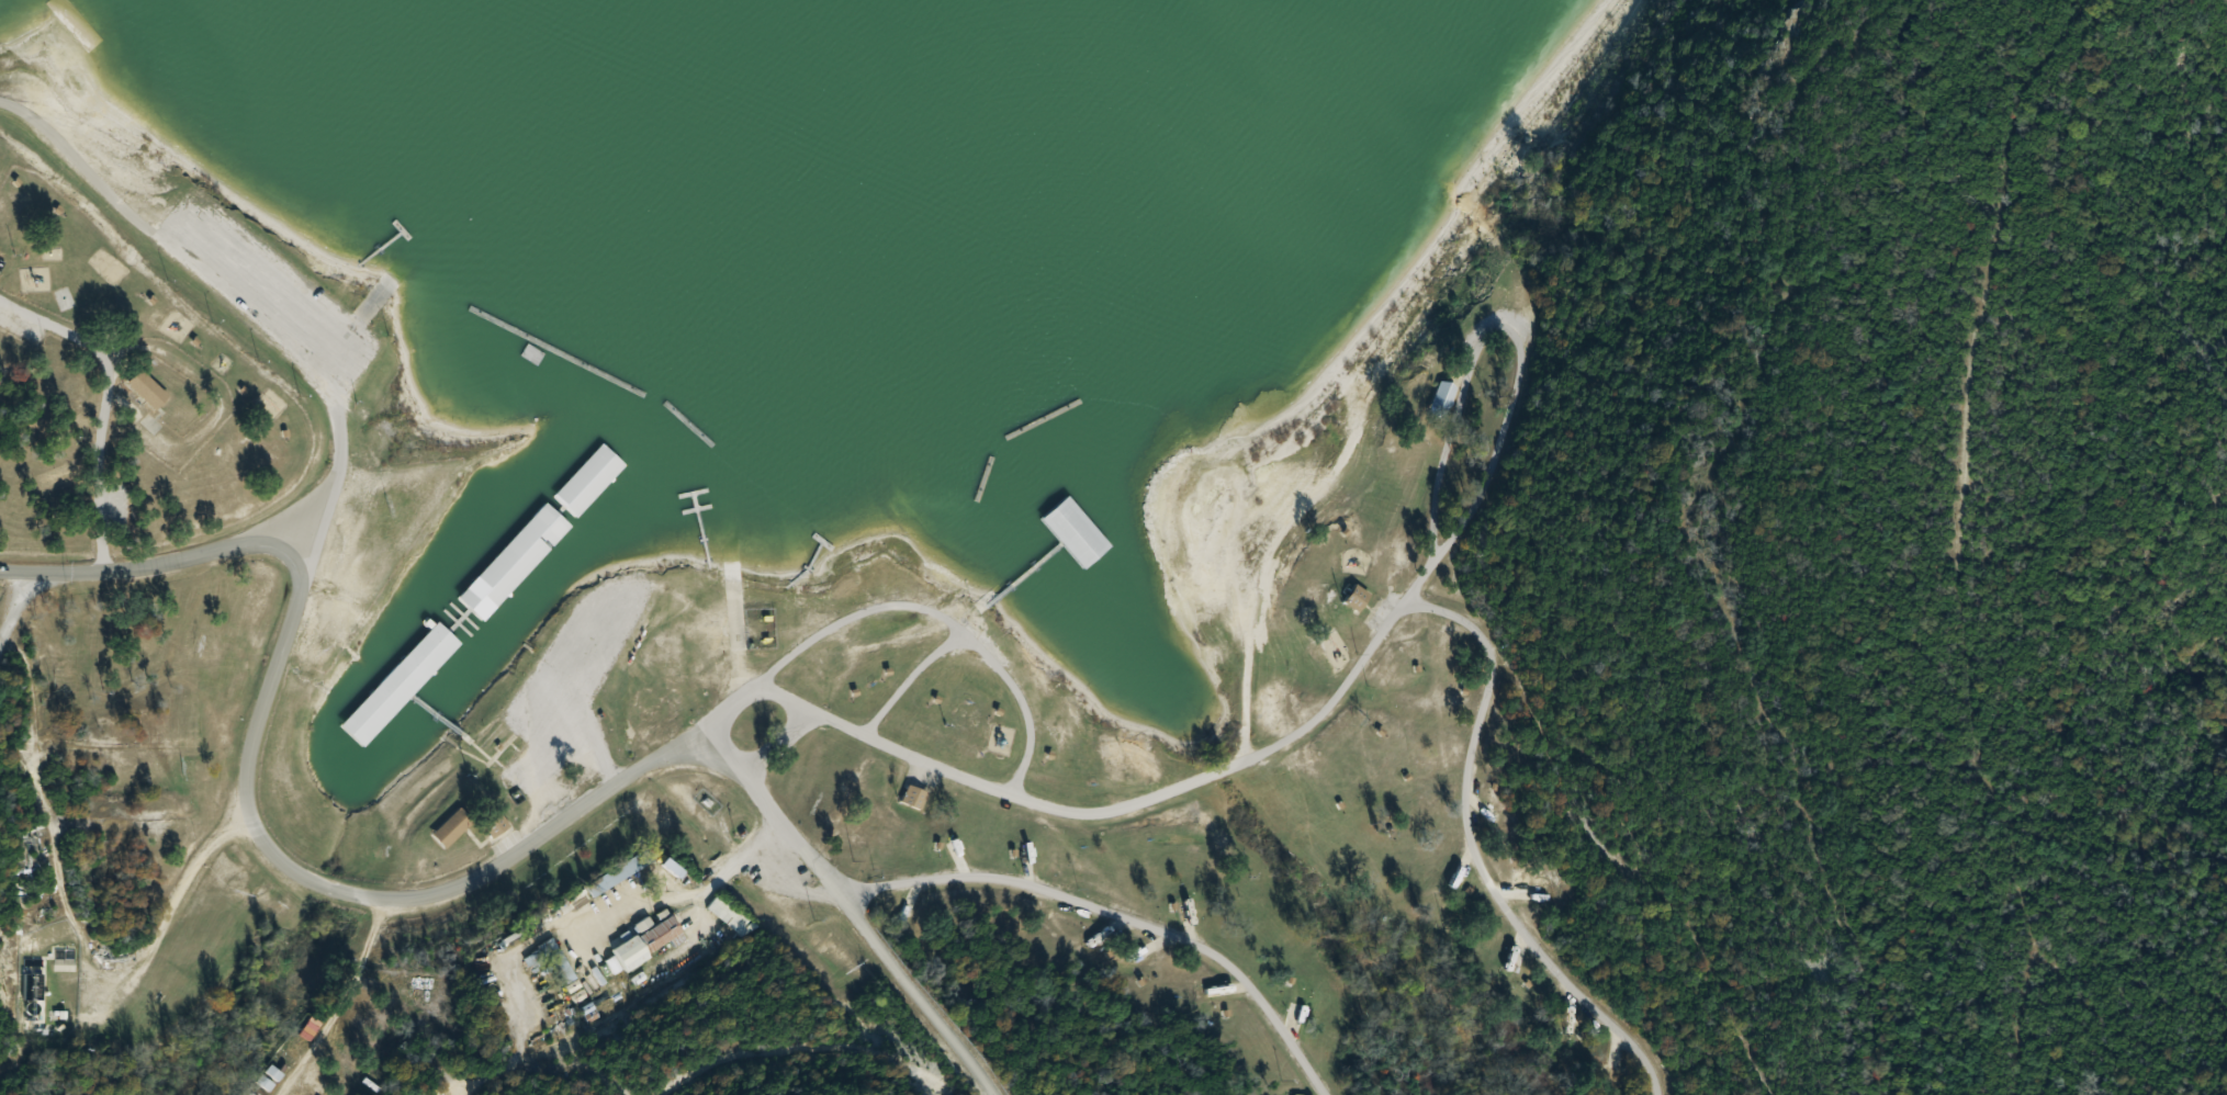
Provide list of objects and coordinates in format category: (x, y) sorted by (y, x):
road: (233, 295)
road: (355, 319)
building: (147, 391)
building: (1443, 400)
building: (589, 467)
building: (1099, 543)
building: (493, 586)
building: (1356, 598)
road: (10, 609)
road: (740, 631)
park: (1216, 650)
road: (983, 652)
building: (409, 680)
road: (1346, 681)
road: (244, 793)
building: (915, 799)
building: (1486, 812)
building: (451, 828)
building: (490, 829)
road: (851, 907)
road: (1117, 917)
building: (643, 947)
building: (302, 1037)

